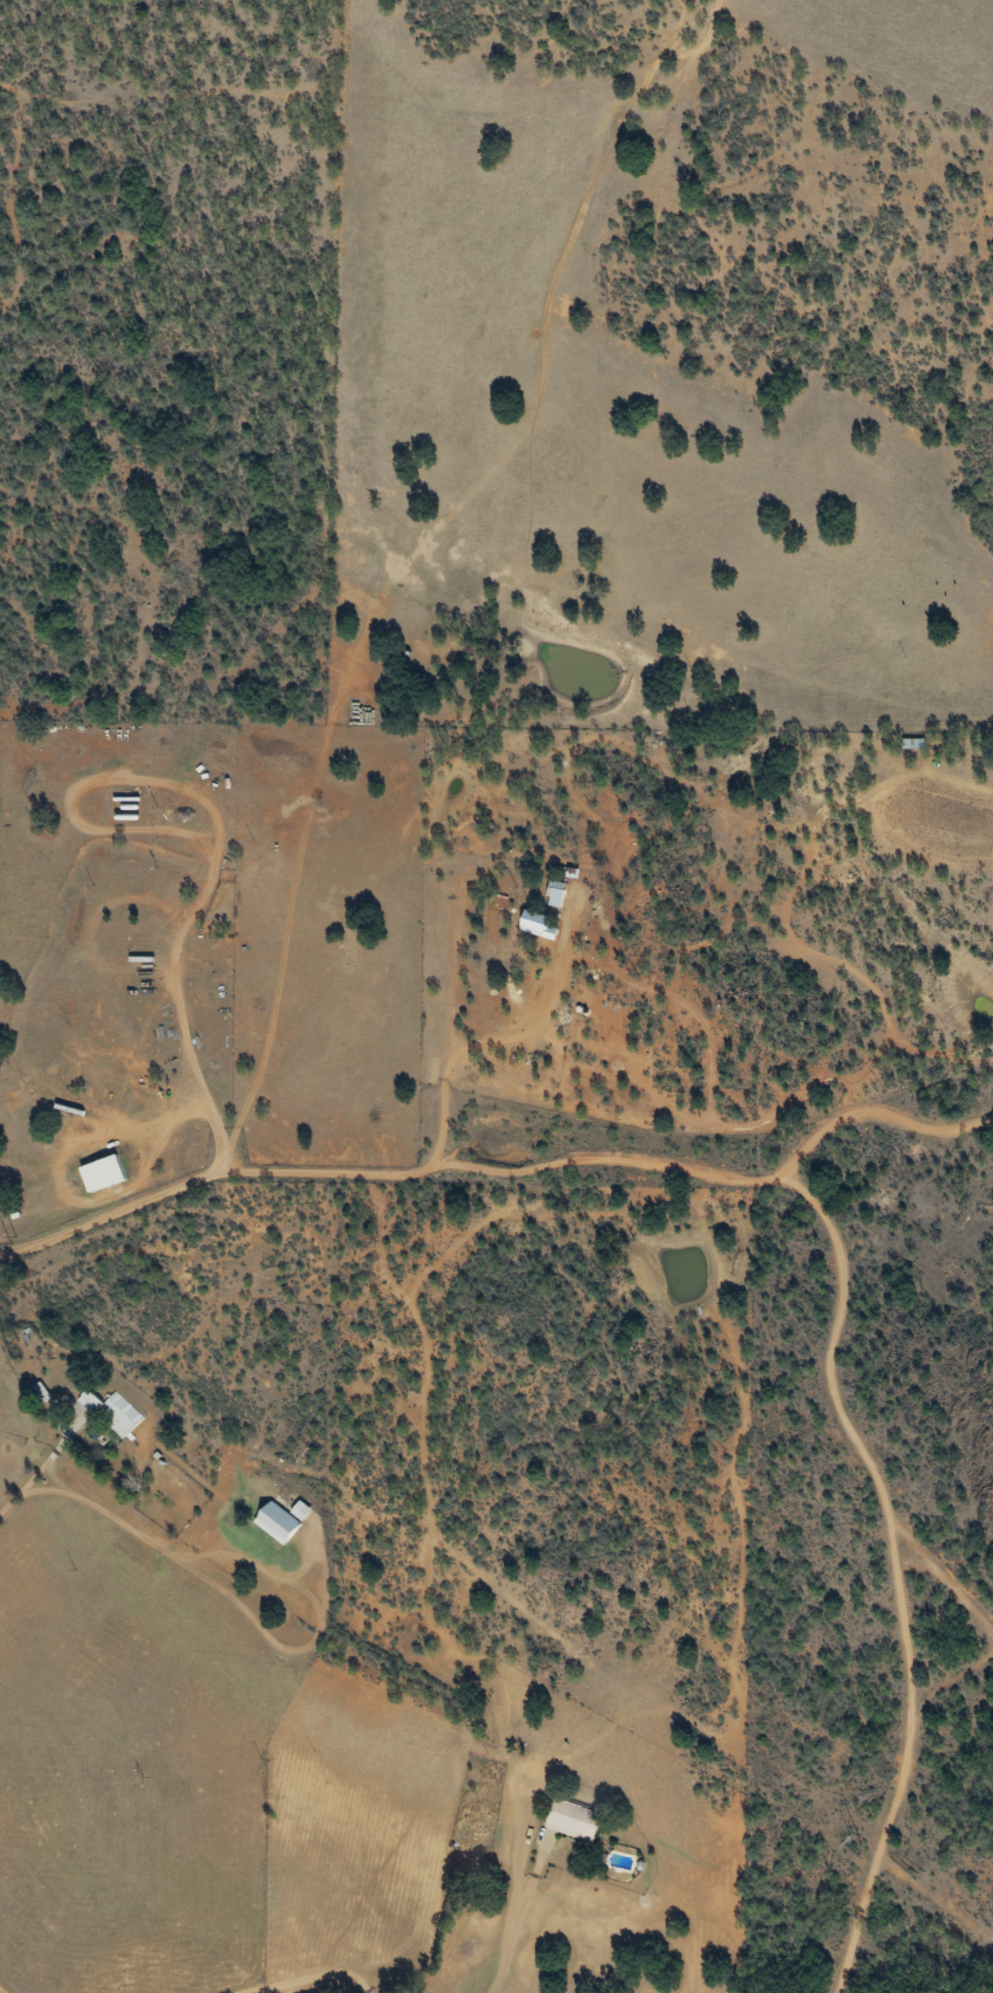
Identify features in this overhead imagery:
road: (53, 112)
road: (540, 383)
building: (546, 922)
building: (103, 1173)
building: (43, 1392)
building: (114, 1412)
power tower: (310, 1450)
building: (283, 1520)
power tower: (585, 1654)
road: (888, 1816)
building: (575, 1820)
power tower: (855, 1840)

